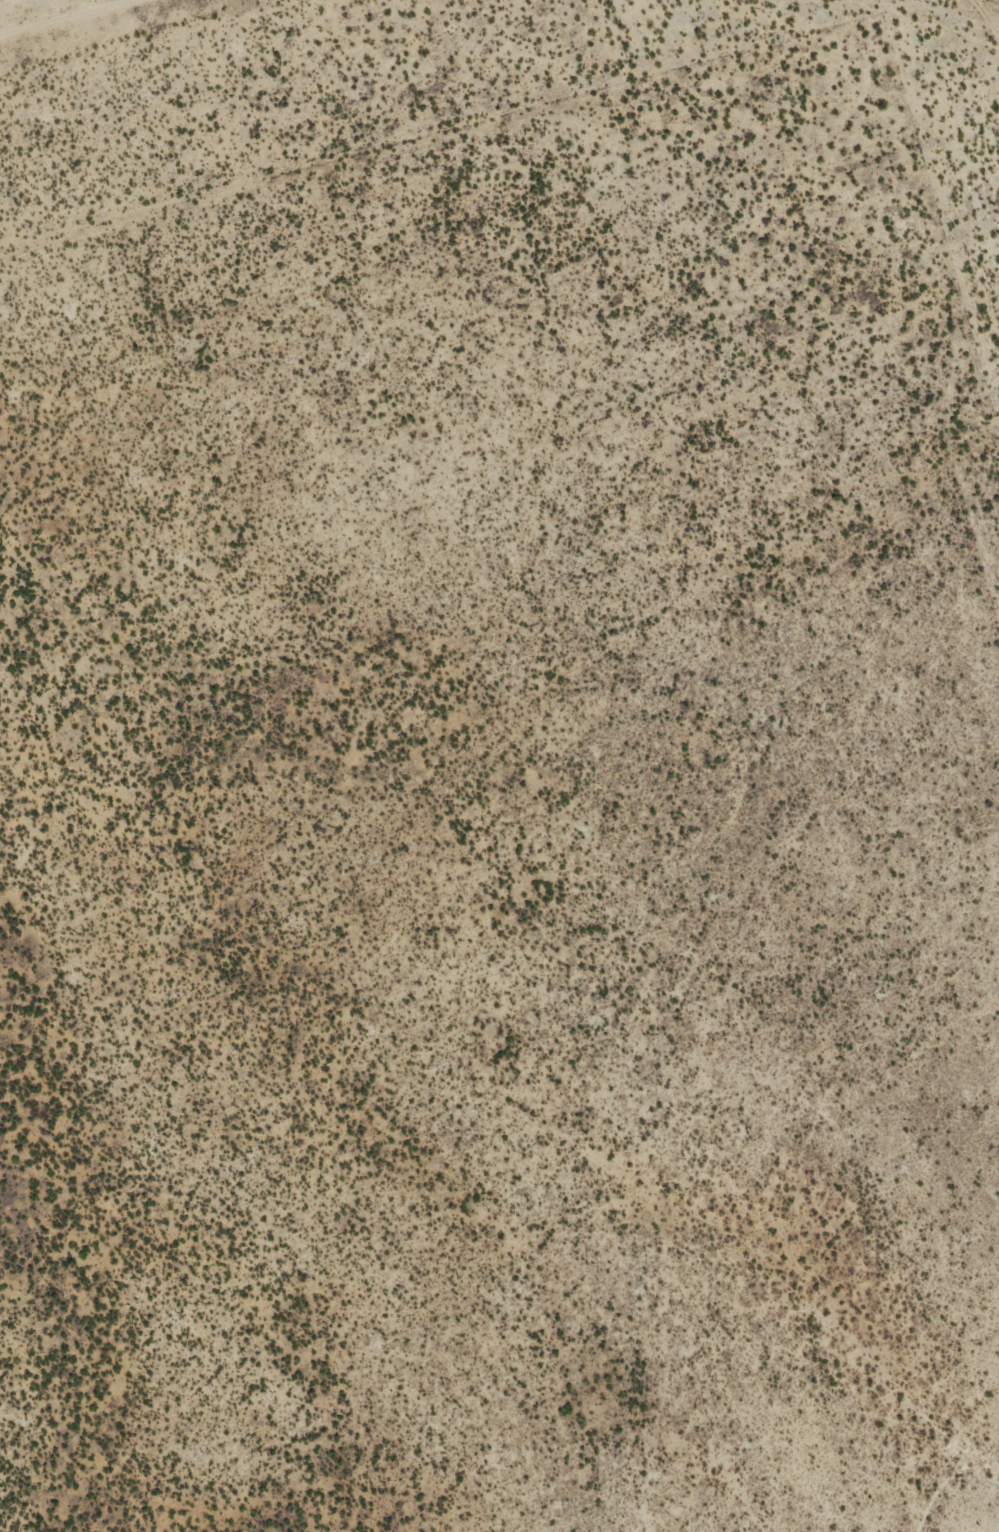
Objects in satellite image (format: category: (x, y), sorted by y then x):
road: (988, 10)
road: (727, 940)

